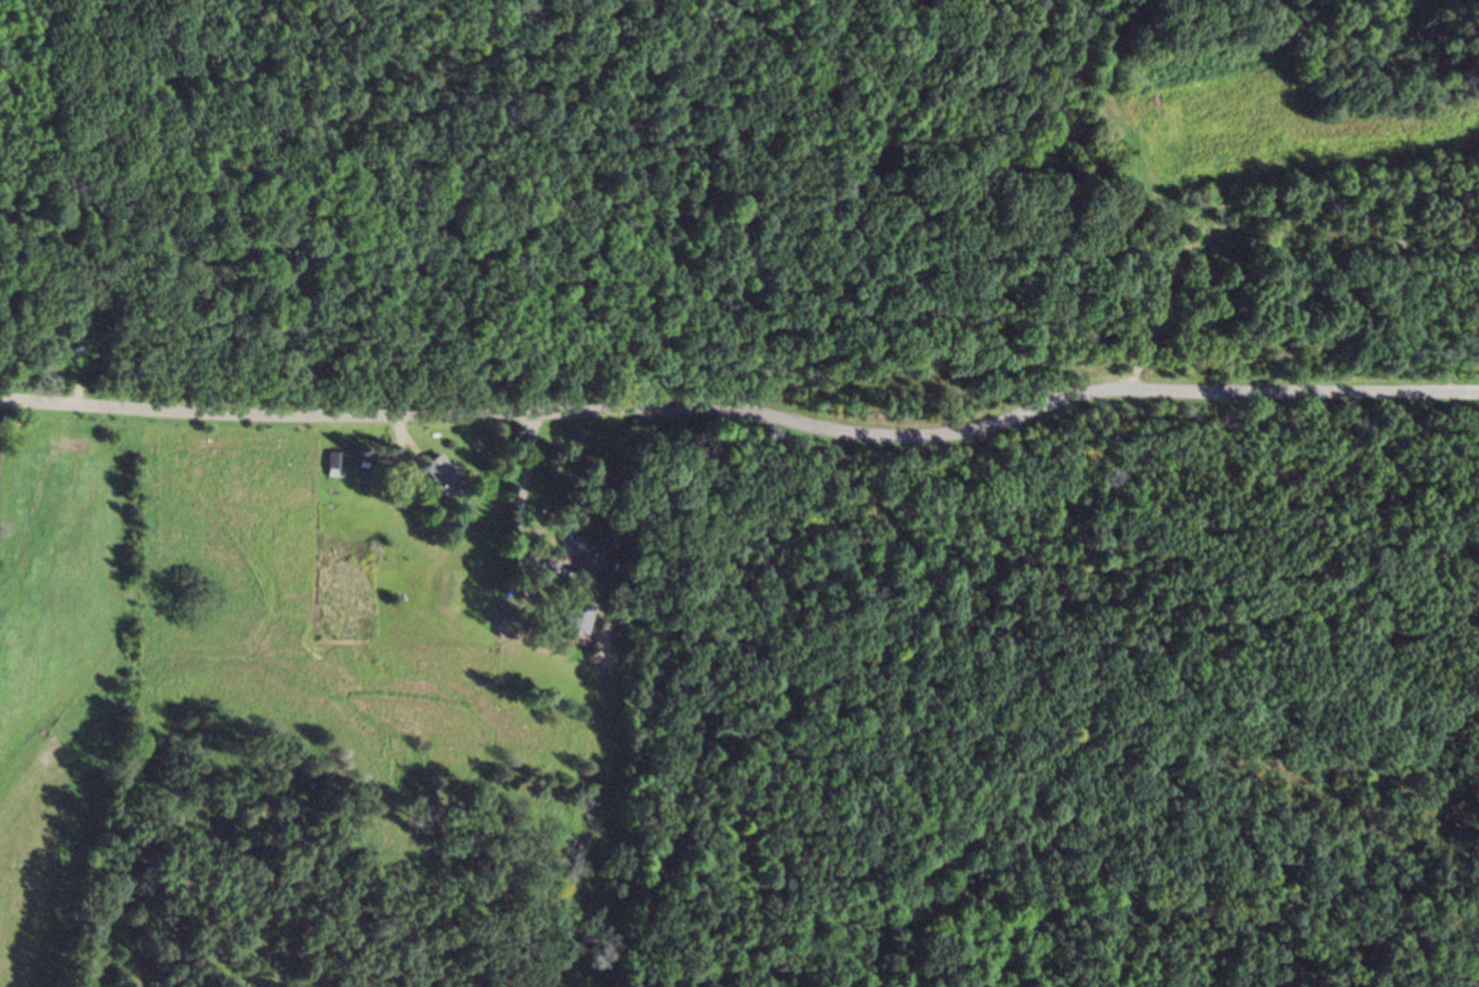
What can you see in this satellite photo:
road: (1144, 226)
road: (743, 411)
building: (337, 468)
building: (443, 481)
road: (515, 509)
building: (593, 574)

